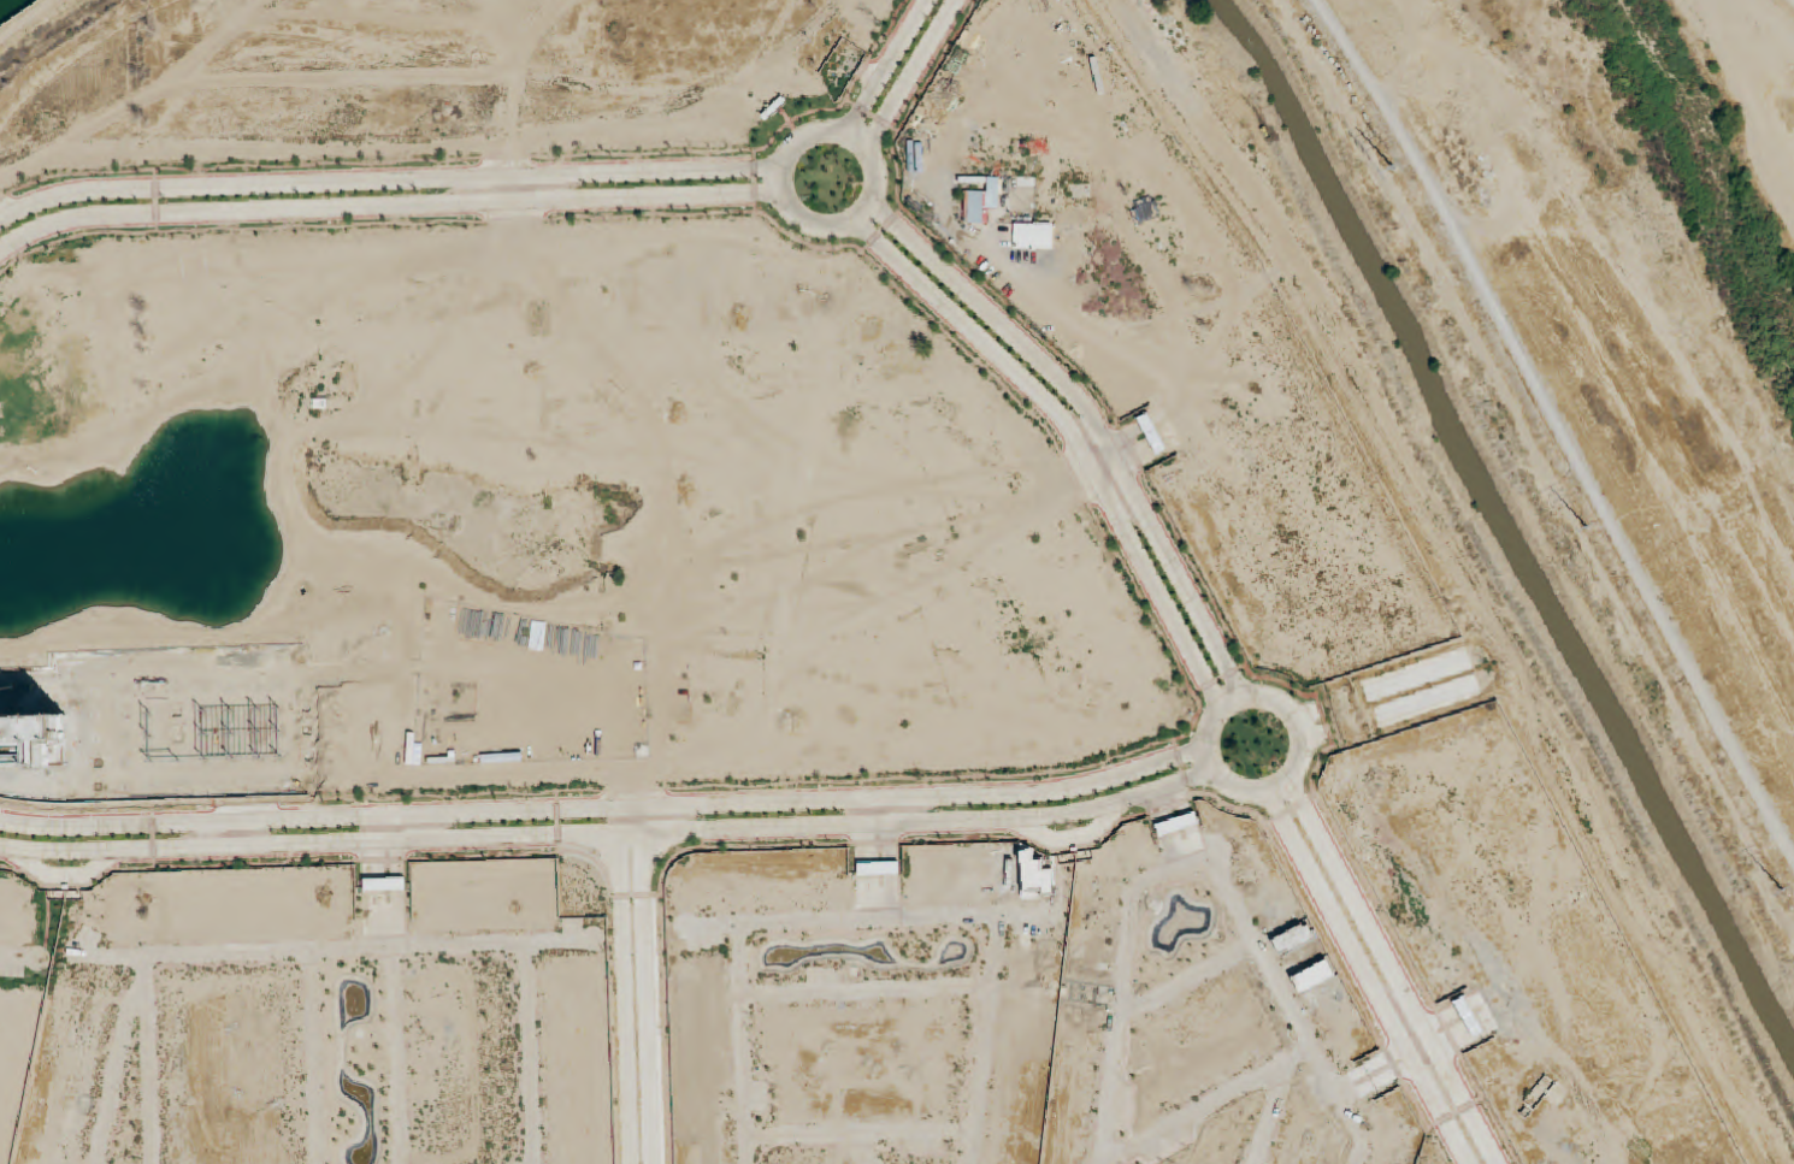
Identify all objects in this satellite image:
building: (1117, 46)
road: (887, 67)
road: (913, 77)
road: (874, 163)
power tower: (1389, 165)
river: (1710, 169)
road: (391, 179)
road: (391, 211)
road: (1113, 347)
road: (1094, 423)
road: (1560, 423)
road: (1078, 436)
road: (1107, 465)
road: (850, 507)
power tower: (1587, 526)
road: (1475, 562)
road: (1232, 704)
road: (607, 809)
road: (1167, 827)
road: (613, 834)
road: (1079, 843)
power tower: (1784, 891)
road: (962, 916)
road: (1375, 977)
road: (1186, 981)
road: (1282, 998)
road: (1120, 1004)
road: (984, 1039)
road: (740, 1044)
road: (1277, 1101)
road: (1198, 1113)

